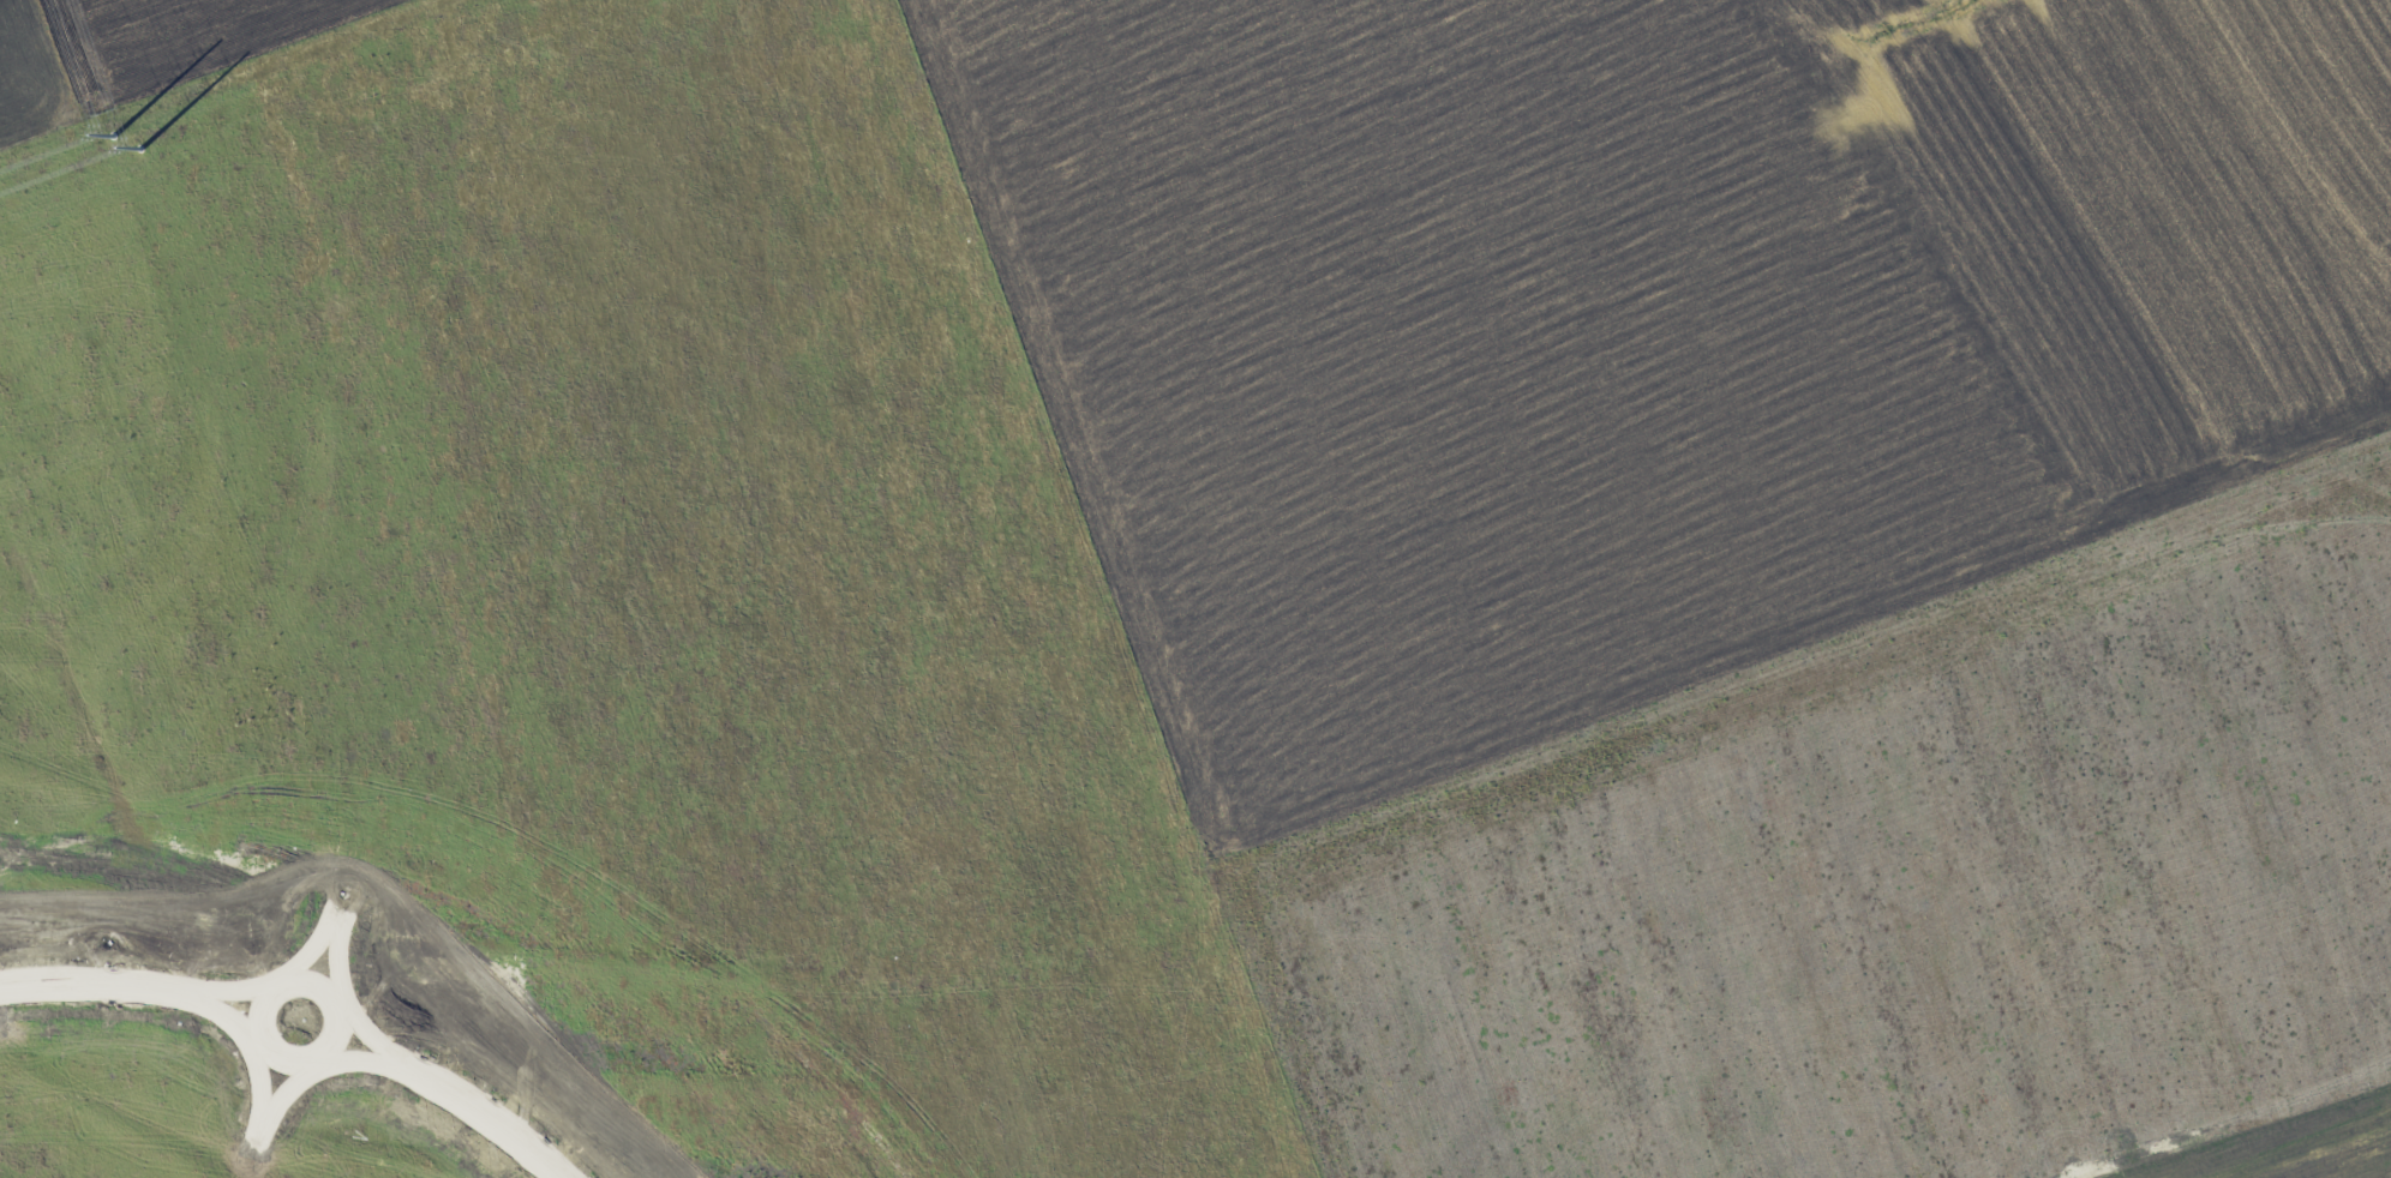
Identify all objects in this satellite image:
power tower: (125, 145)
road: (125, 283)
road: (247, 335)
road: (455, 464)
road: (515, 498)
road: (108, 504)
road: (90, 776)
road: (335, 915)
road: (95, 986)
road: (196, 993)
road: (342, 1024)
road: (386, 1056)
road: (265, 1108)
road: (478, 1111)
road: (262, 1128)

